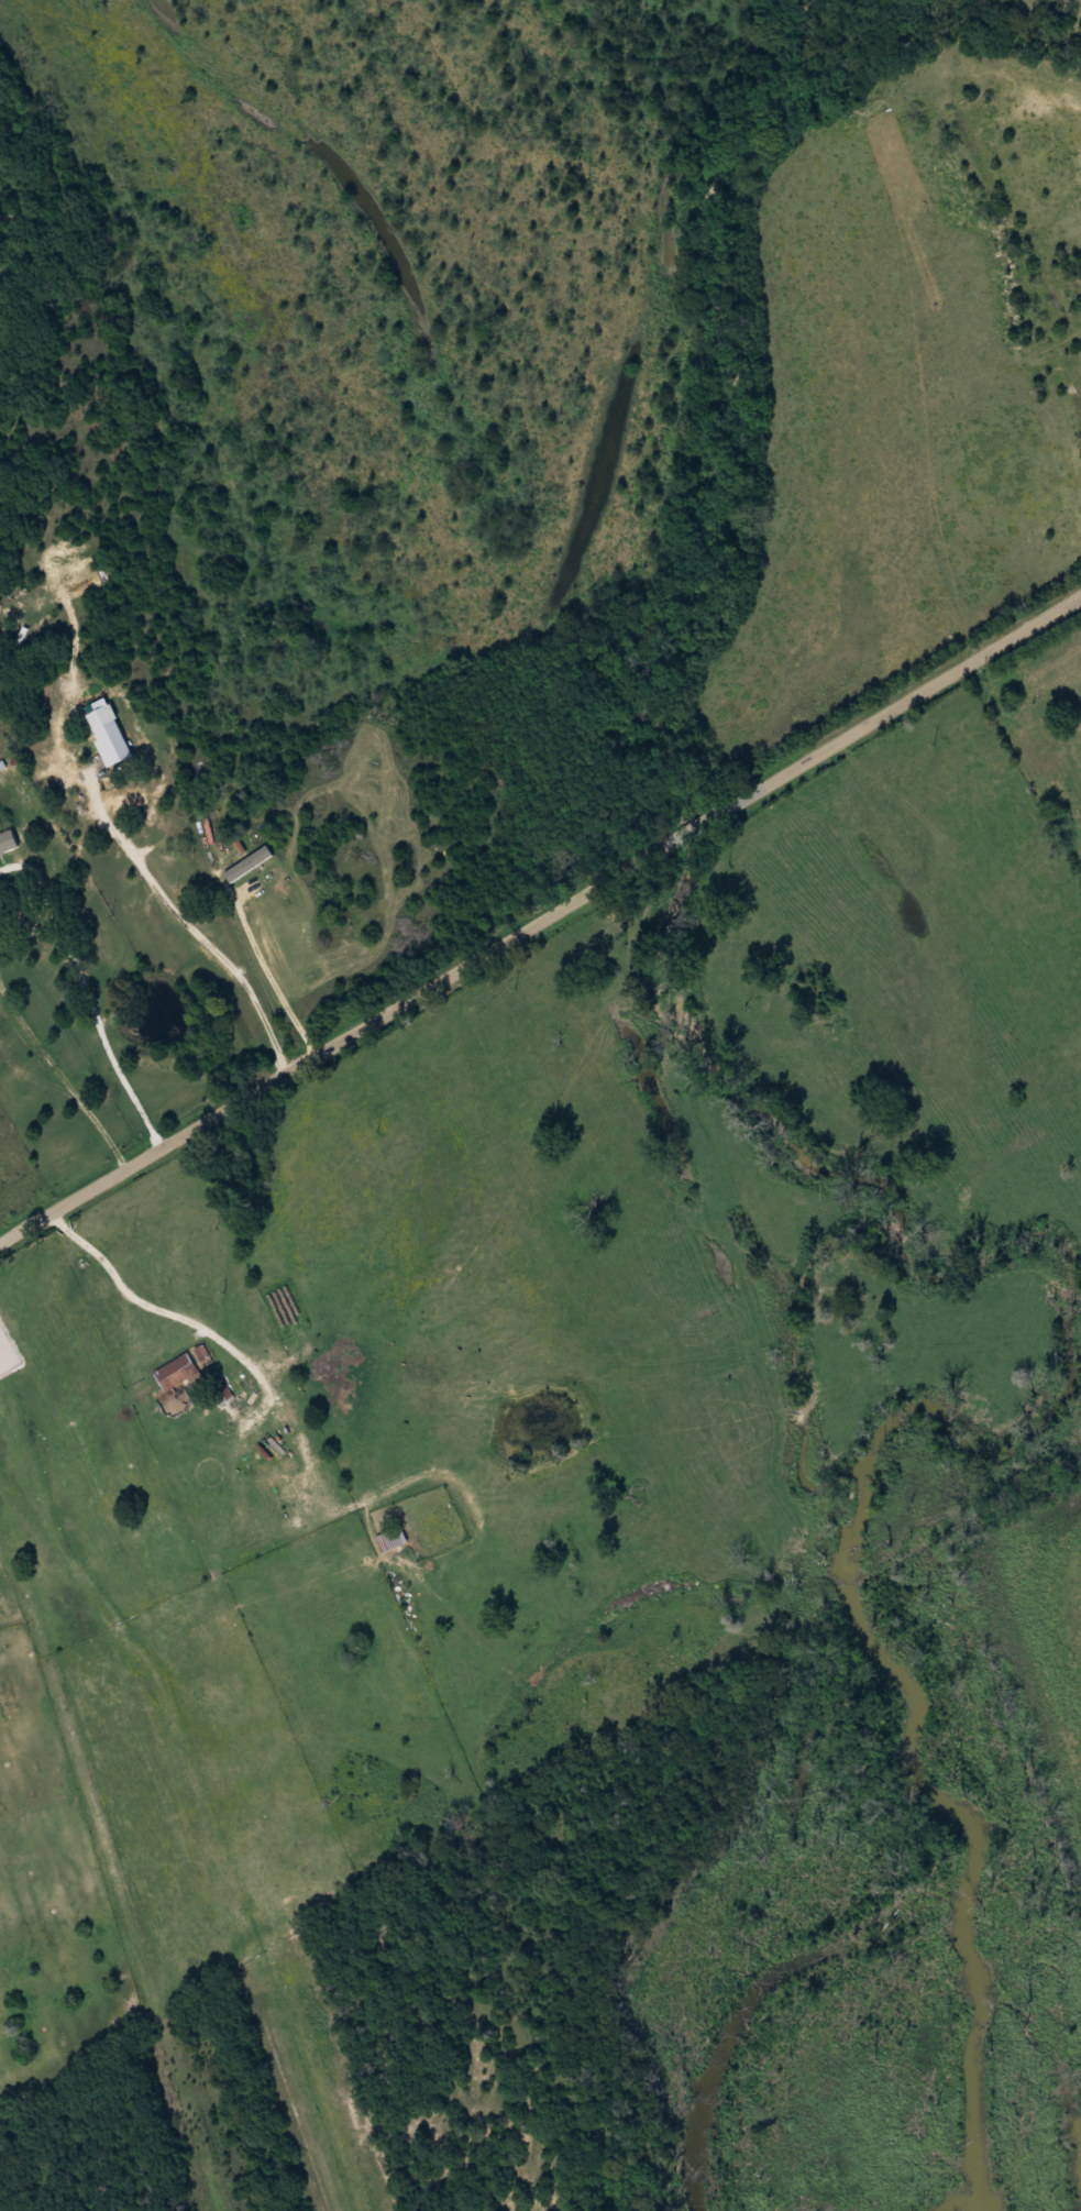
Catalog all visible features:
building: (1079, 717)
building: (124, 802)
building: (8, 843)
building: (247, 866)
road: (539, 921)
building: (177, 1374)
building: (221, 1390)
building: (390, 1540)

